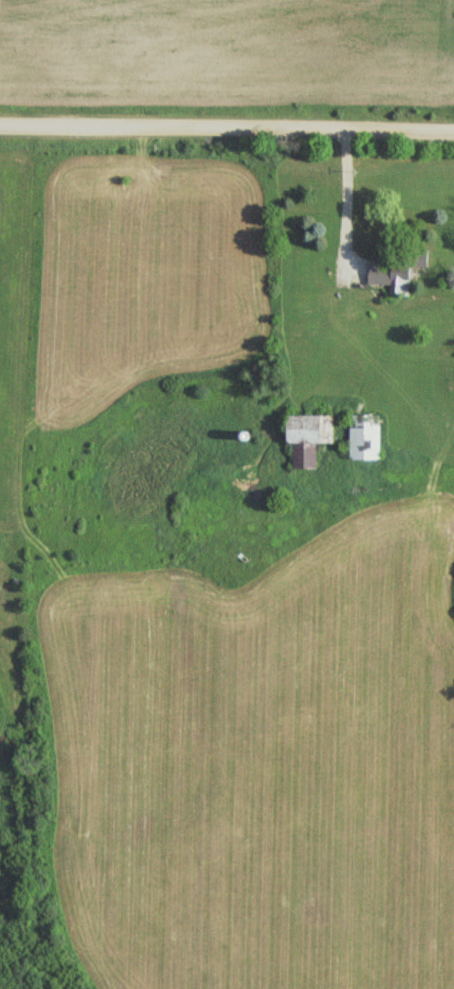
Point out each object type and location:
road: (227, 131)
building: (396, 279)
building: (368, 437)
building: (311, 446)

